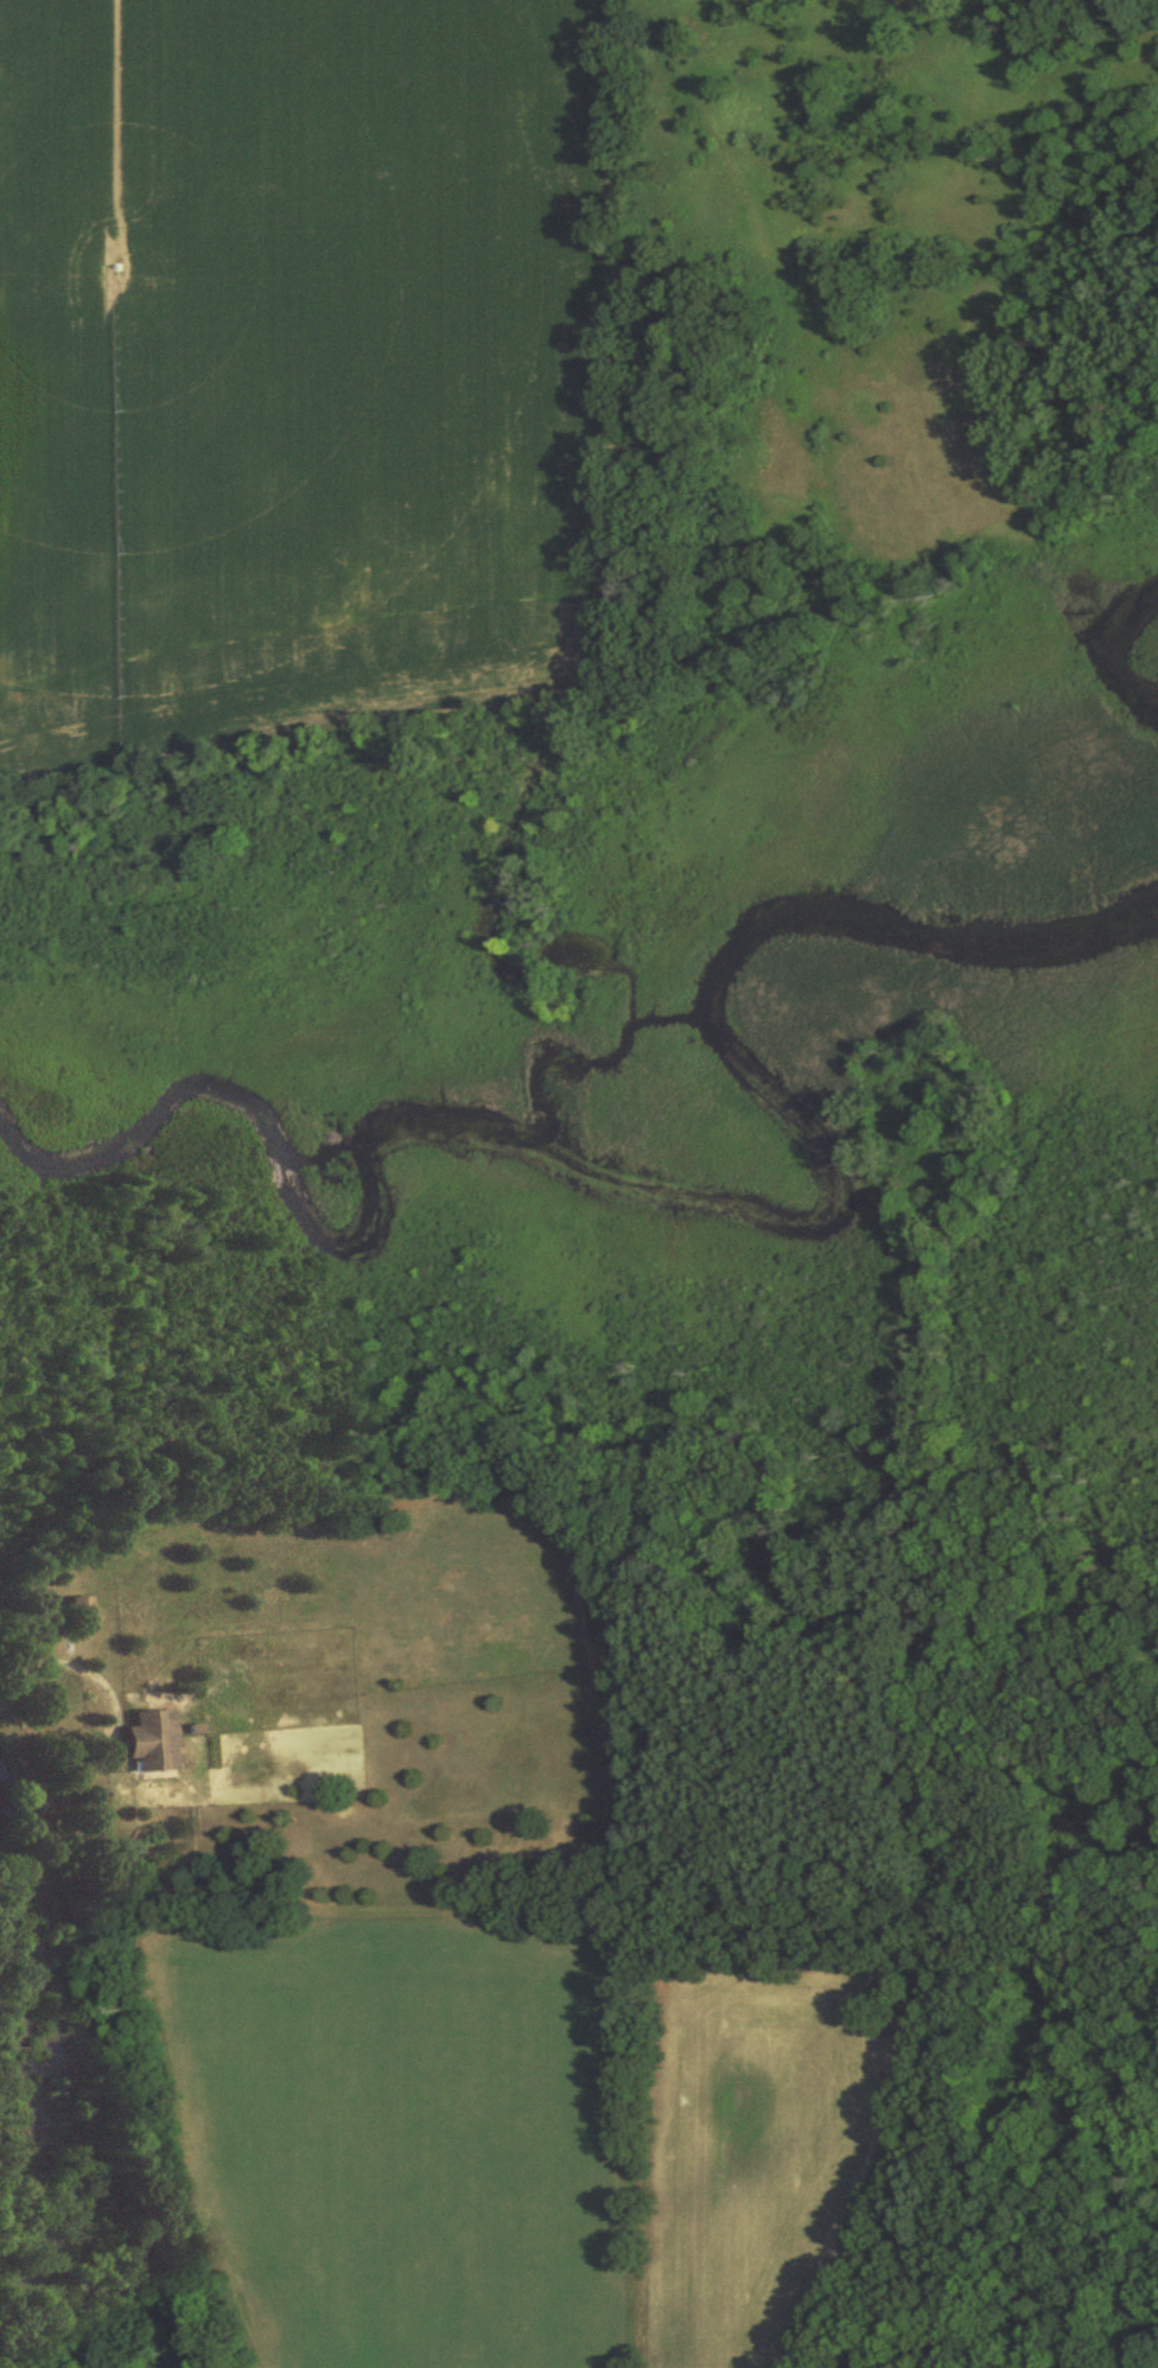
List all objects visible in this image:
building: (72, 1613)
building: (142, 1740)
road: (924, 1958)
road: (986, 2234)

